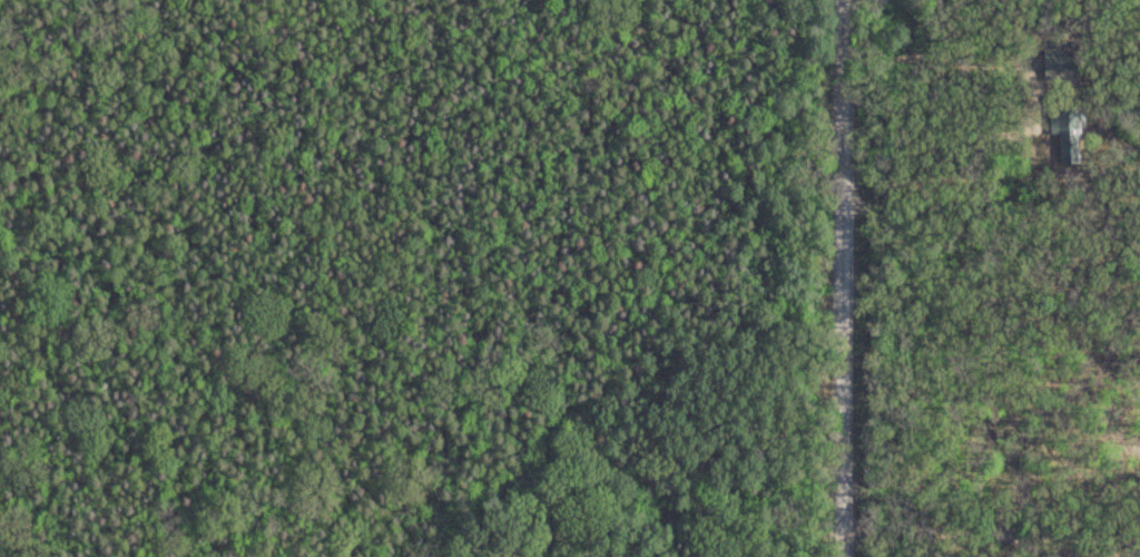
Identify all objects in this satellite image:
road: (832, 278)

